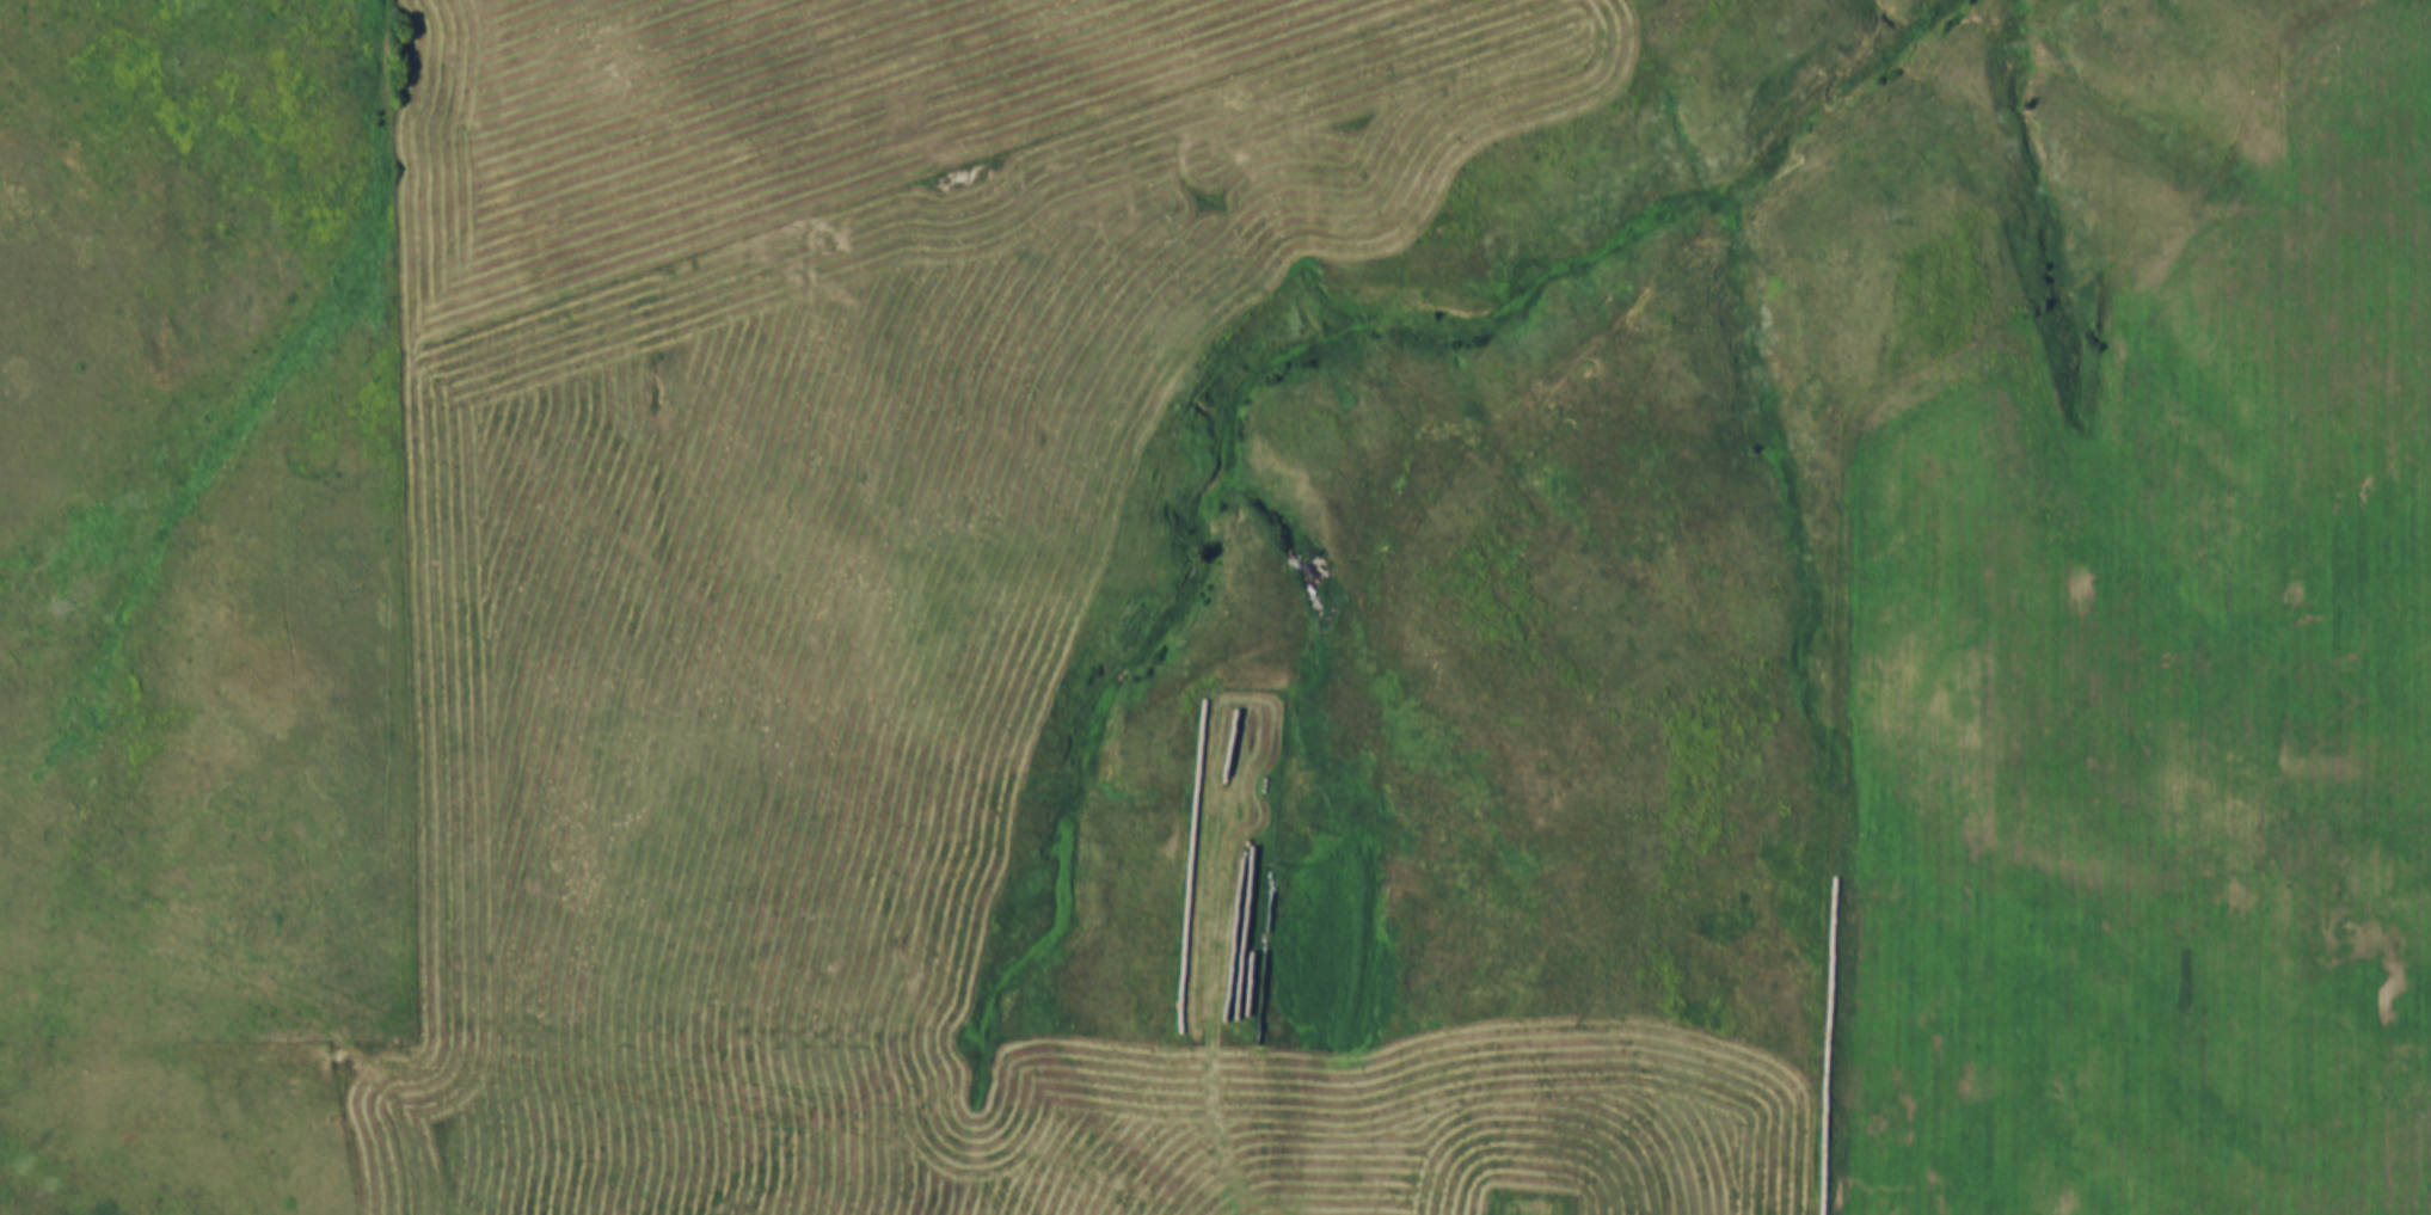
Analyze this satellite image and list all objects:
road: (870, 787)
road: (260, 944)
building: (1245, 1023)

